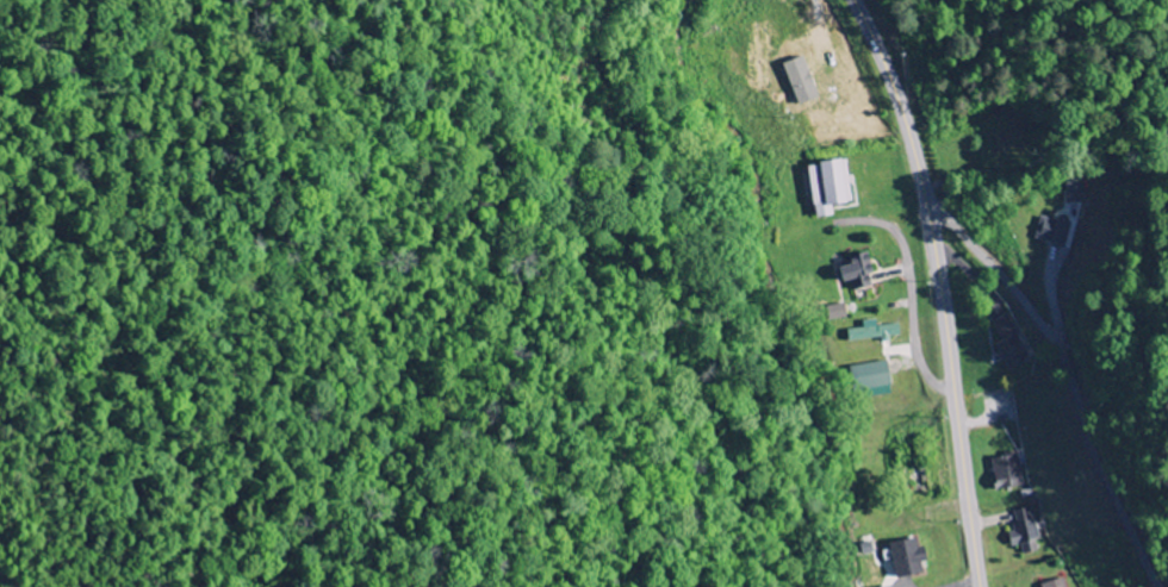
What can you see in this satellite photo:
building: (802, 82)
building: (831, 188)
building: (1076, 193)
building: (1075, 219)
building: (1054, 232)
building: (859, 273)
road: (908, 274)
road: (942, 287)
building: (838, 313)
building: (875, 332)
building: (1011, 344)
road: (1069, 373)
building: (872, 376)
building: (1008, 473)
building: (1026, 533)
building: (909, 560)

